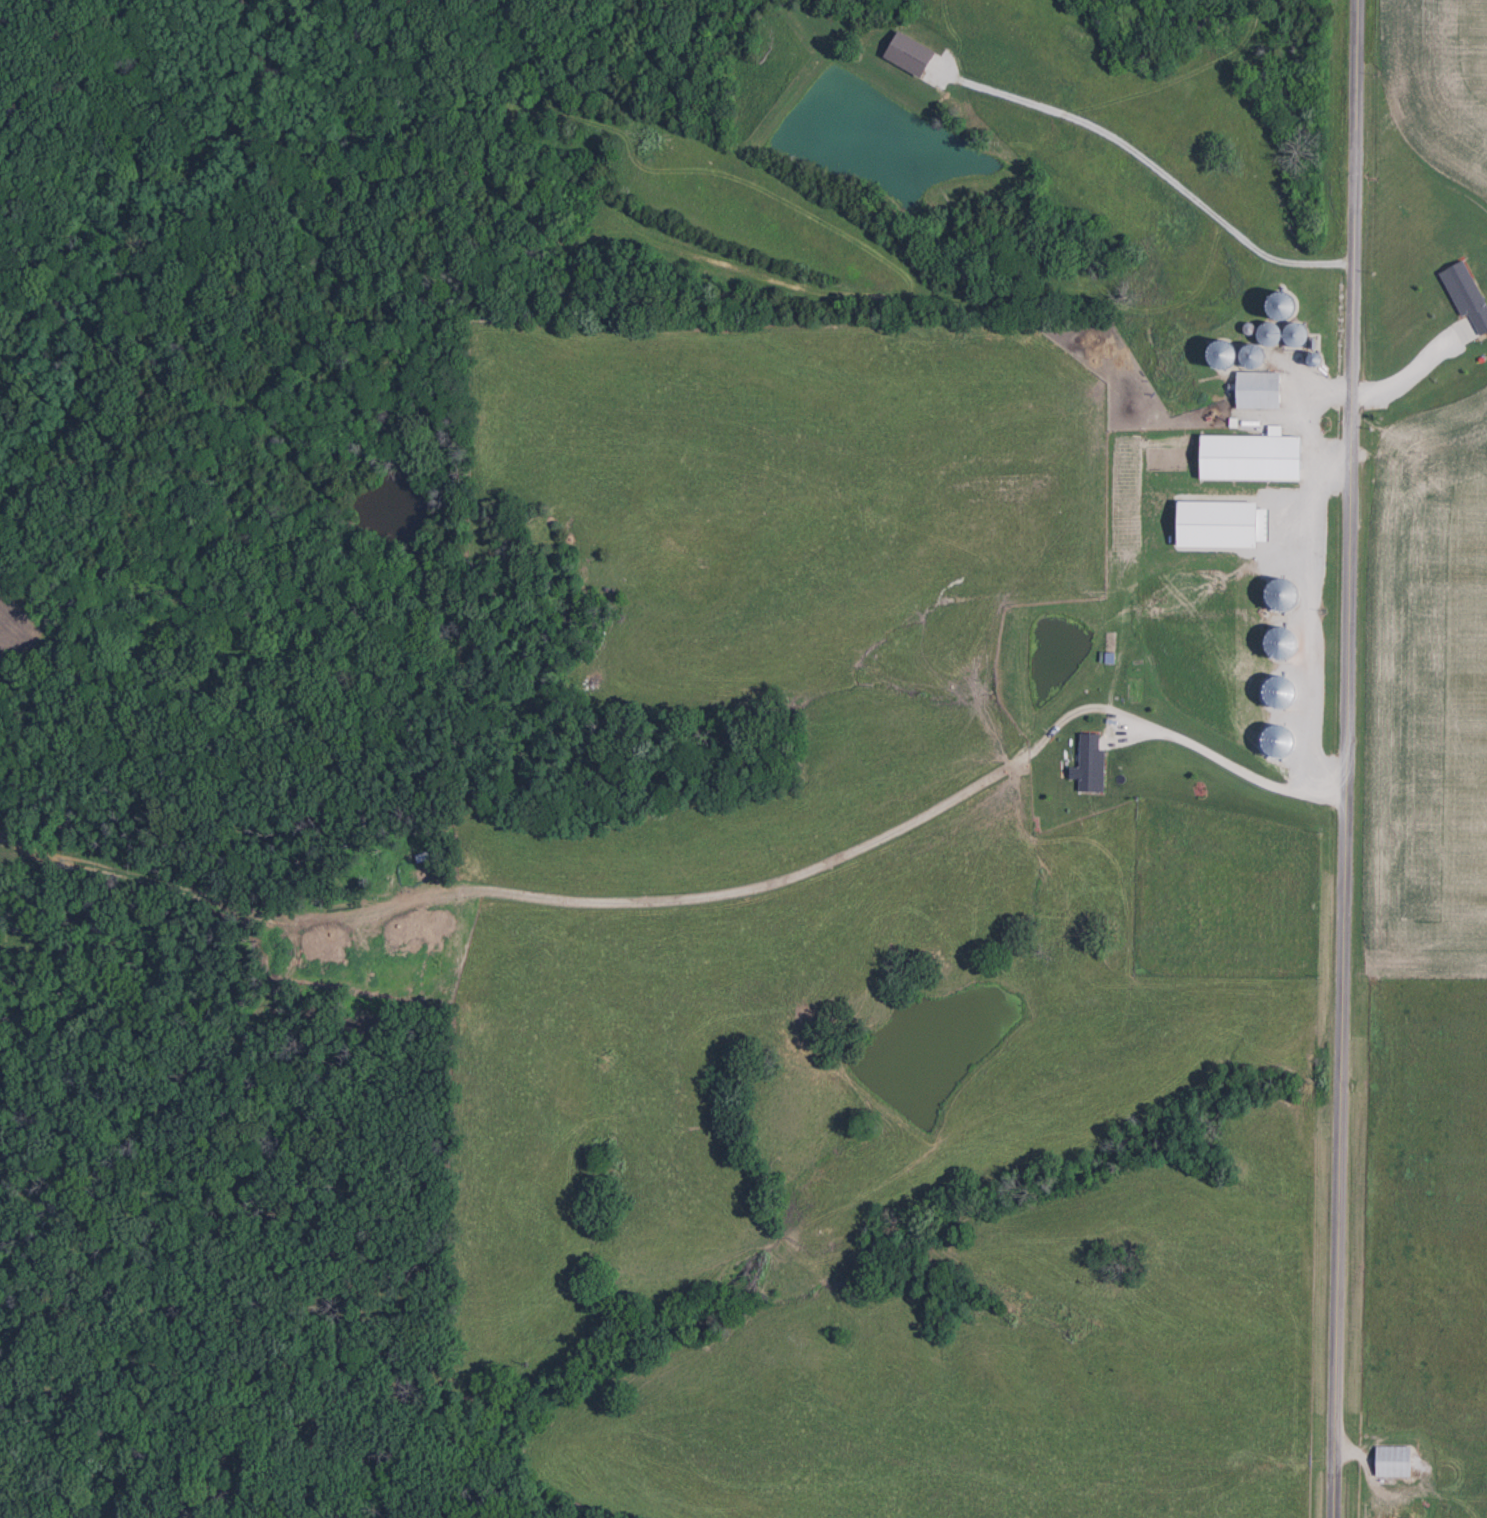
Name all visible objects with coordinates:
building: (1282, 333)
building: (1253, 353)
building: (1416, 367)
building: (1258, 389)
building: (1252, 456)
road: (1346, 758)
building: (1091, 762)
building: (1394, 1461)

